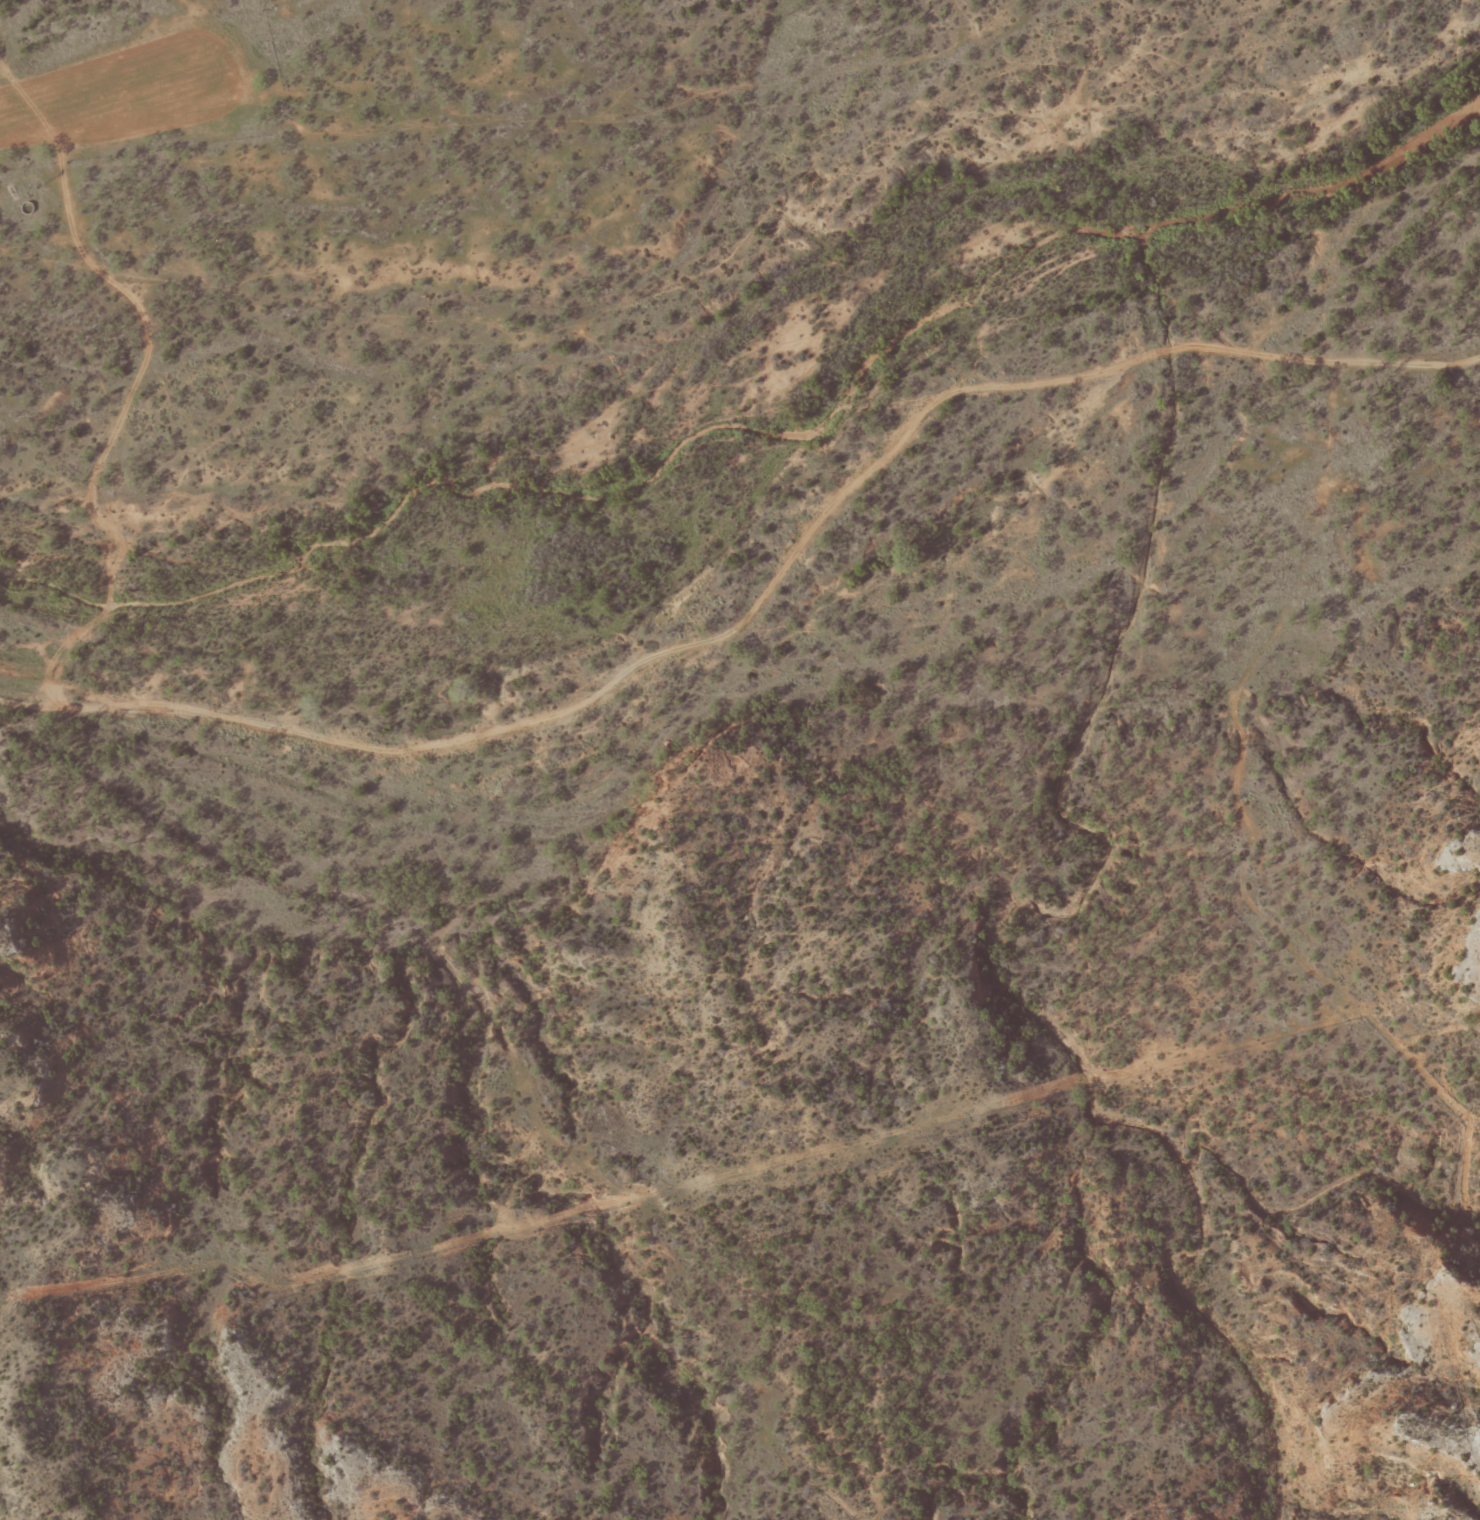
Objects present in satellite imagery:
road: (767, 644)

